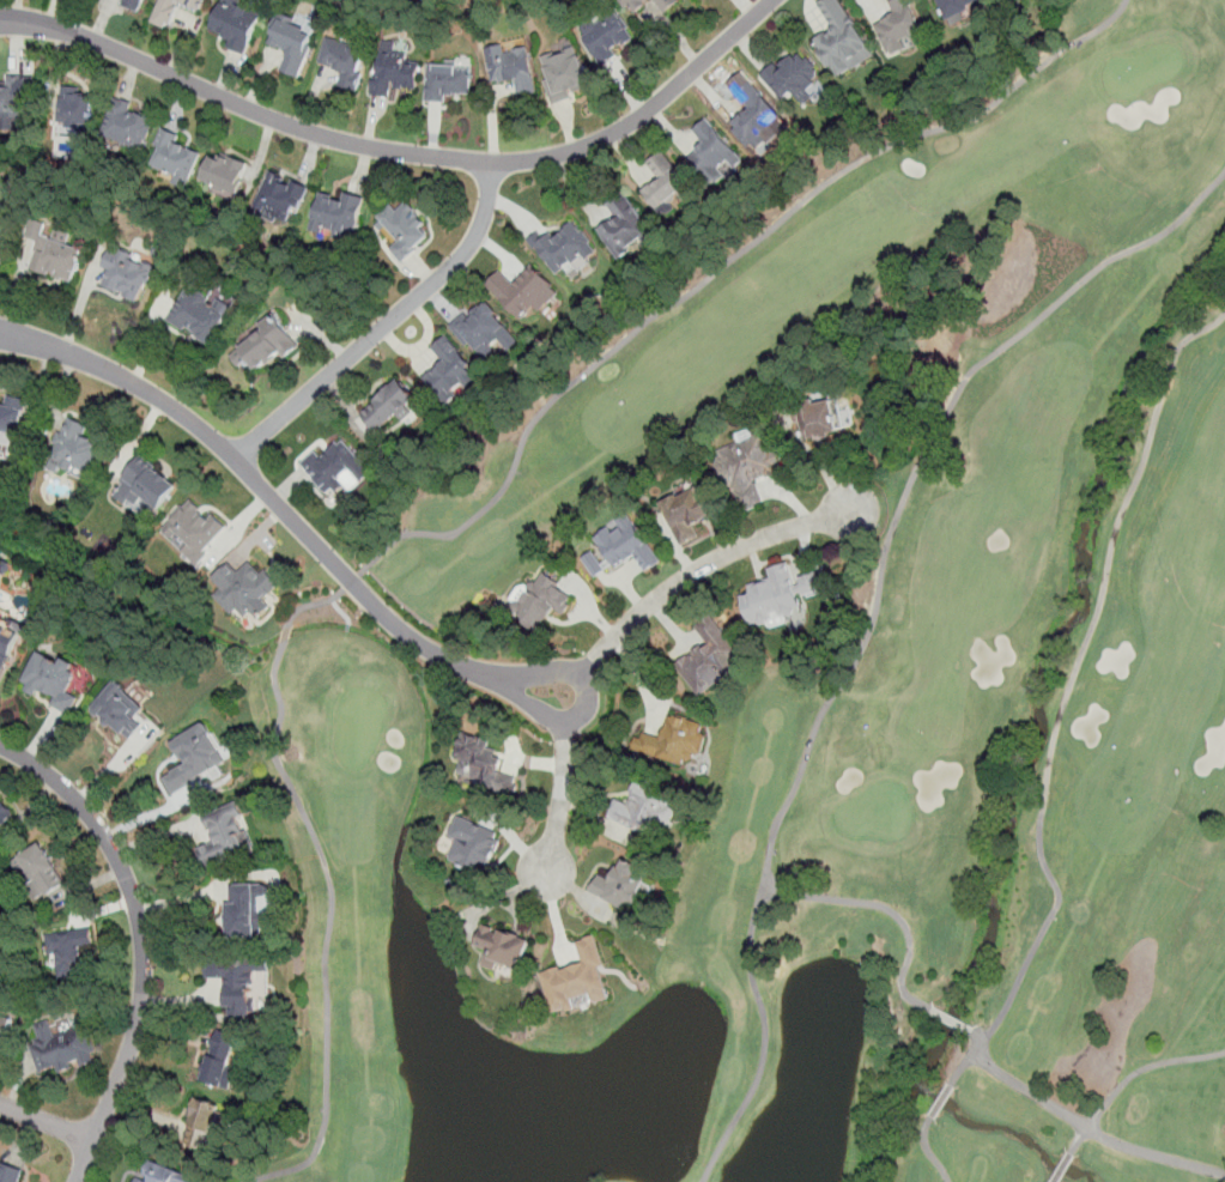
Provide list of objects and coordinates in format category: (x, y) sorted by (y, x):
building: (201, 1)
building: (633, 4)
building: (666, 4)
building: (132, 5)
building: (170, 10)
building: (957, 10)
building: (235, 26)
building: (898, 26)
building: (607, 37)
building: (291, 44)
building: (843, 47)
building: (344, 62)
building: (513, 68)
building: (394, 73)
building: (564, 74)
building: (792, 77)
building: (447, 81)
building: (13, 99)
building: (74, 108)
building: (754, 117)
building: (129, 123)
road: (402, 152)
building: (710, 153)
building: (175, 157)
building: (224, 172)
building: (666, 183)
building: (279, 196)
building: (335, 214)
building: (623, 226)
building: (404, 230)
building: (565, 249)
building: (59, 255)
building: (126, 274)
building: (522, 291)
building: (195, 316)
road: (387, 325)
building: (487, 328)
building: (268, 343)
building: (449, 371)
building: (389, 406)
building: (11, 414)
building: (836, 414)
building: (77, 448)
building: (330, 467)
building: (746, 468)
building: (144, 485)
road: (285, 510)
building: (696, 510)
building: (194, 528)
building: (626, 546)
road: (691, 575)
building: (248, 590)
building: (784, 593)
building: (540, 602)
road: (873, 606)
building: (7, 643)
building: (709, 657)
building: (54, 683)
park: (853, 684)
road: (1066, 695)
building: (119, 710)
building: (679, 741)
building: (194, 758)
building: (484, 765)
road: (564, 783)
building: (649, 811)
building: (4, 814)
building: (223, 836)
building: (472, 844)
building: (38, 871)
building: (620, 885)
road: (883, 909)
building: (251, 910)
road: (141, 940)
building: (503, 947)
building: (69, 952)
building: (576, 980)
building: (243, 982)
building: (5, 1030)
building: (62, 1048)
building: (220, 1061)
road: (1130, 1077)
road: (46, 1122)
building: (202, 1122)
road: (1085, 1125)
road: (928, 1150)
road: (712, 1164)
building: (10, 1174)
building: (165, 1174)
road: (705, 1178)
building: (138, 1181)

